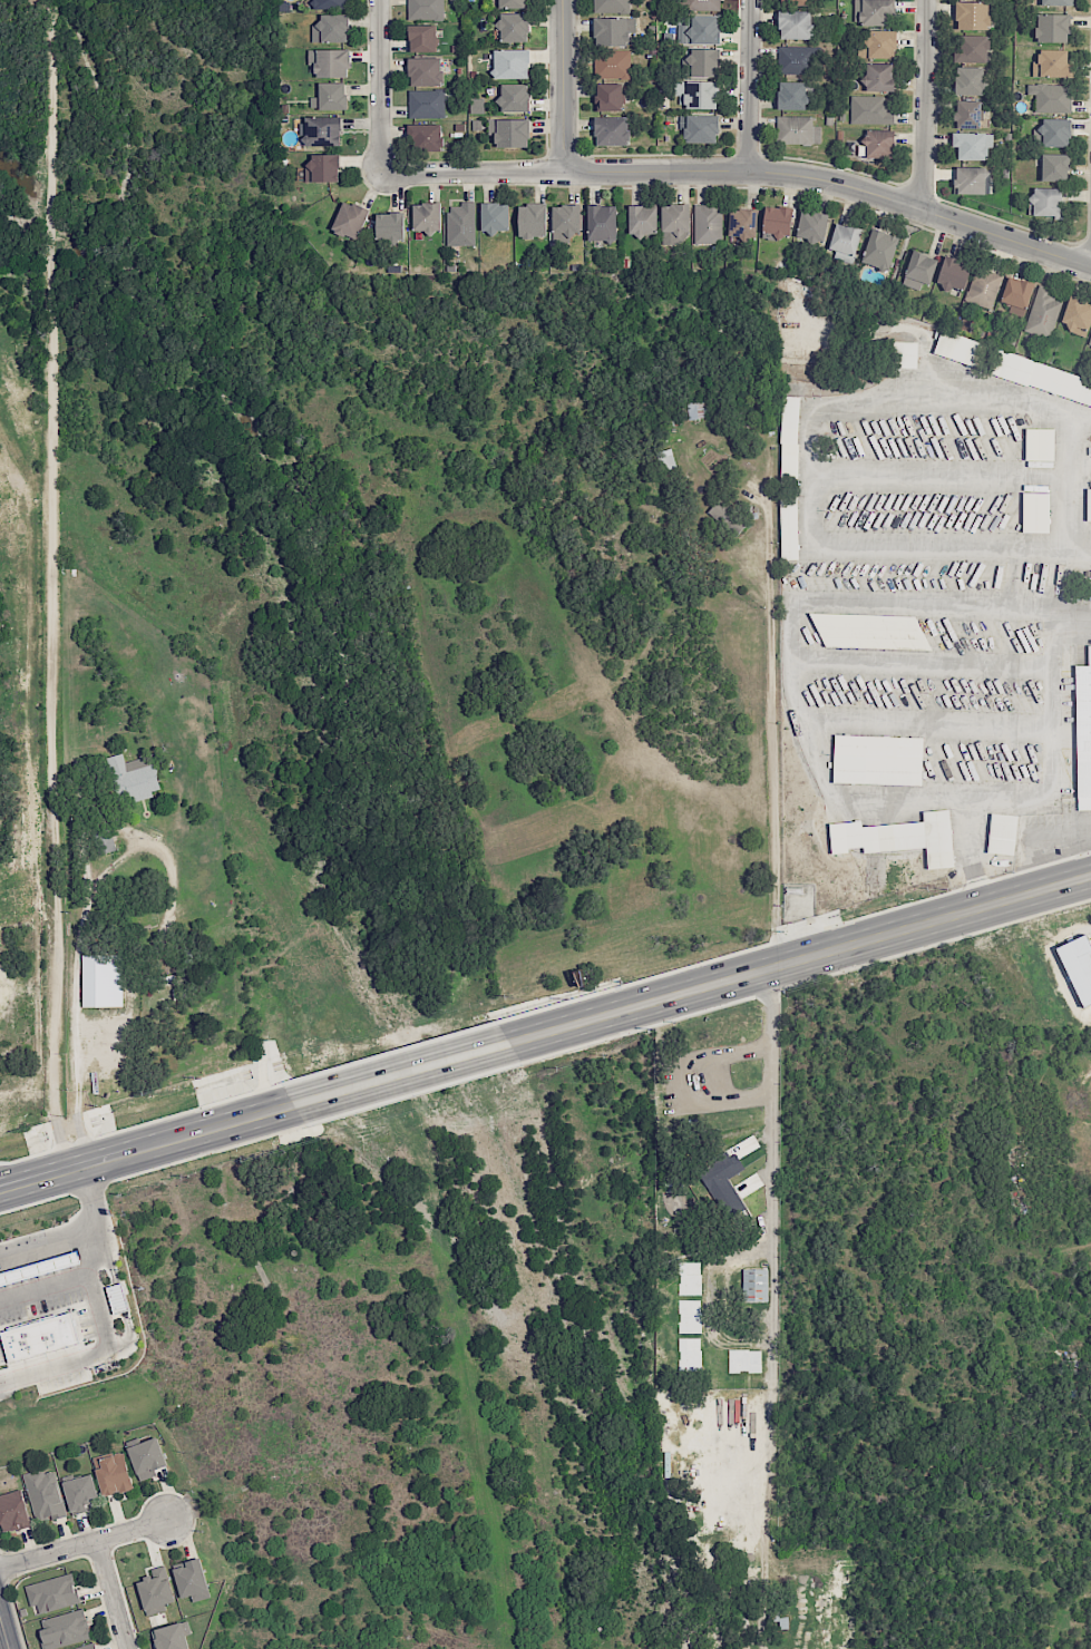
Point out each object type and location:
building: (792, 1)
building: (1055, 2)
building: (512, 3)
building: (331, 4)
building: (704, 4)
building: (611, 6)
building: (426, 9)
building: (873, 12)
building: (972, 16)
building: (796, 25)
building: (514, 27)
building: (1052, 28)
building: (331, 29)
building: (702, 29)
building: (612, 30)
building: (422, 38)
building: (880, 43)
building: (971, 49)
building: (798, 60)
building: (330, 62)
building: (703, 62)
building: (510, 64)
building: (613, 64)
building: (1054, 64)
building: (425, 71)
building: (878, 77)
building: (968, 81)
road: (561, 86)
road: (750, 86)
road: (379, 87)
building: (698, 94)
building: (330, 96)
building: (791, 96)
building: (514, 97)
building: (607, 97)
building: (1051, 97)
building: (426, 103)
building: (477, 106)
road: (925, 106)
building: (871, 109)
building: (967, 114)
building: (701, 128)
building: (321, 130)
building: (612, 130)
building: (798, 130)
building: (510, 133)
building: (1054, 133)
building: (426, 136)
building: (879, 144)
building: (970, 145)
building: (1055, 167)
building: (322, 168)
road: (742, 172)
building: (970, 180)
building: (1045, 202)
building: (427, 216)
building: (495, 216)
building: (350, 219)
building: (642, 219)
building: (532, 221)
building: (777, 221)
building: (565, 222)
building: (601, 223)
building: (742, 223)
building: (460, 224)
building: (675, 224)
building: (708, 224)
building: (390, 226)
building: (812, 226)
building: (844, 242)
building: (880, 250)
building: (918, 271)
building: (953, 274)
building: (983, 287)
building: (1016, 292)
building: (1042, 313)
building: (1077, 315)
building: (1089, 341)
building: (958, 348)
building: (905, 354)
building: (1041, 378)
building: (697, 409)
building: (790, 439)
building: (1038, 443)
road: (806, 474)
road: (1072, 482)
building: (1089, 504)
building: (720, 510)
building: (1034, 513)
building: (789, 527)
road: (53, 585)
road: (944, 606)
building: (869, 631)
road: (1054, 710)
road: (772, 712)
building: (1083, 733)
building: (878, 760)
building: (131, 778)
road: (831, 796)
building: (1003, 833)
road: (1063, 836)
building: (898, 838)
road: (1035, 846)
road: (972, 853)
road: (792, 936)
road: (800, 960)
building: (1078, 965)
building: (96, 979)
road: (805, 980)
road: (75, 1015)
road: (388, 1053)
road: (401, 1074)
road: (412, 1093)
road: (139, 1124)
road: (147, 1148)
road: (153, 1168)
building: (720, 1171)
road: (100, 1223)
road: (50, 1238)
road: (771, 1265)
building: (754, 1285)
road: (43, 1288)
building: (118, 1298)
building: (48, 1331)
road: (92, 1357)
building: (147, 1457)
building: (114, 1473)
building: (80, 1493)
building: (45, 1494)
building: (13, 1512)
road: (84, 1544)
building: (191, 1579)
building: (156, 1591)
building: (52, 1593)
road: (111, 1594)
building: (66, 1629)
road: (3, 1635)
building: (171, 1637)
building: (86, 1647)

